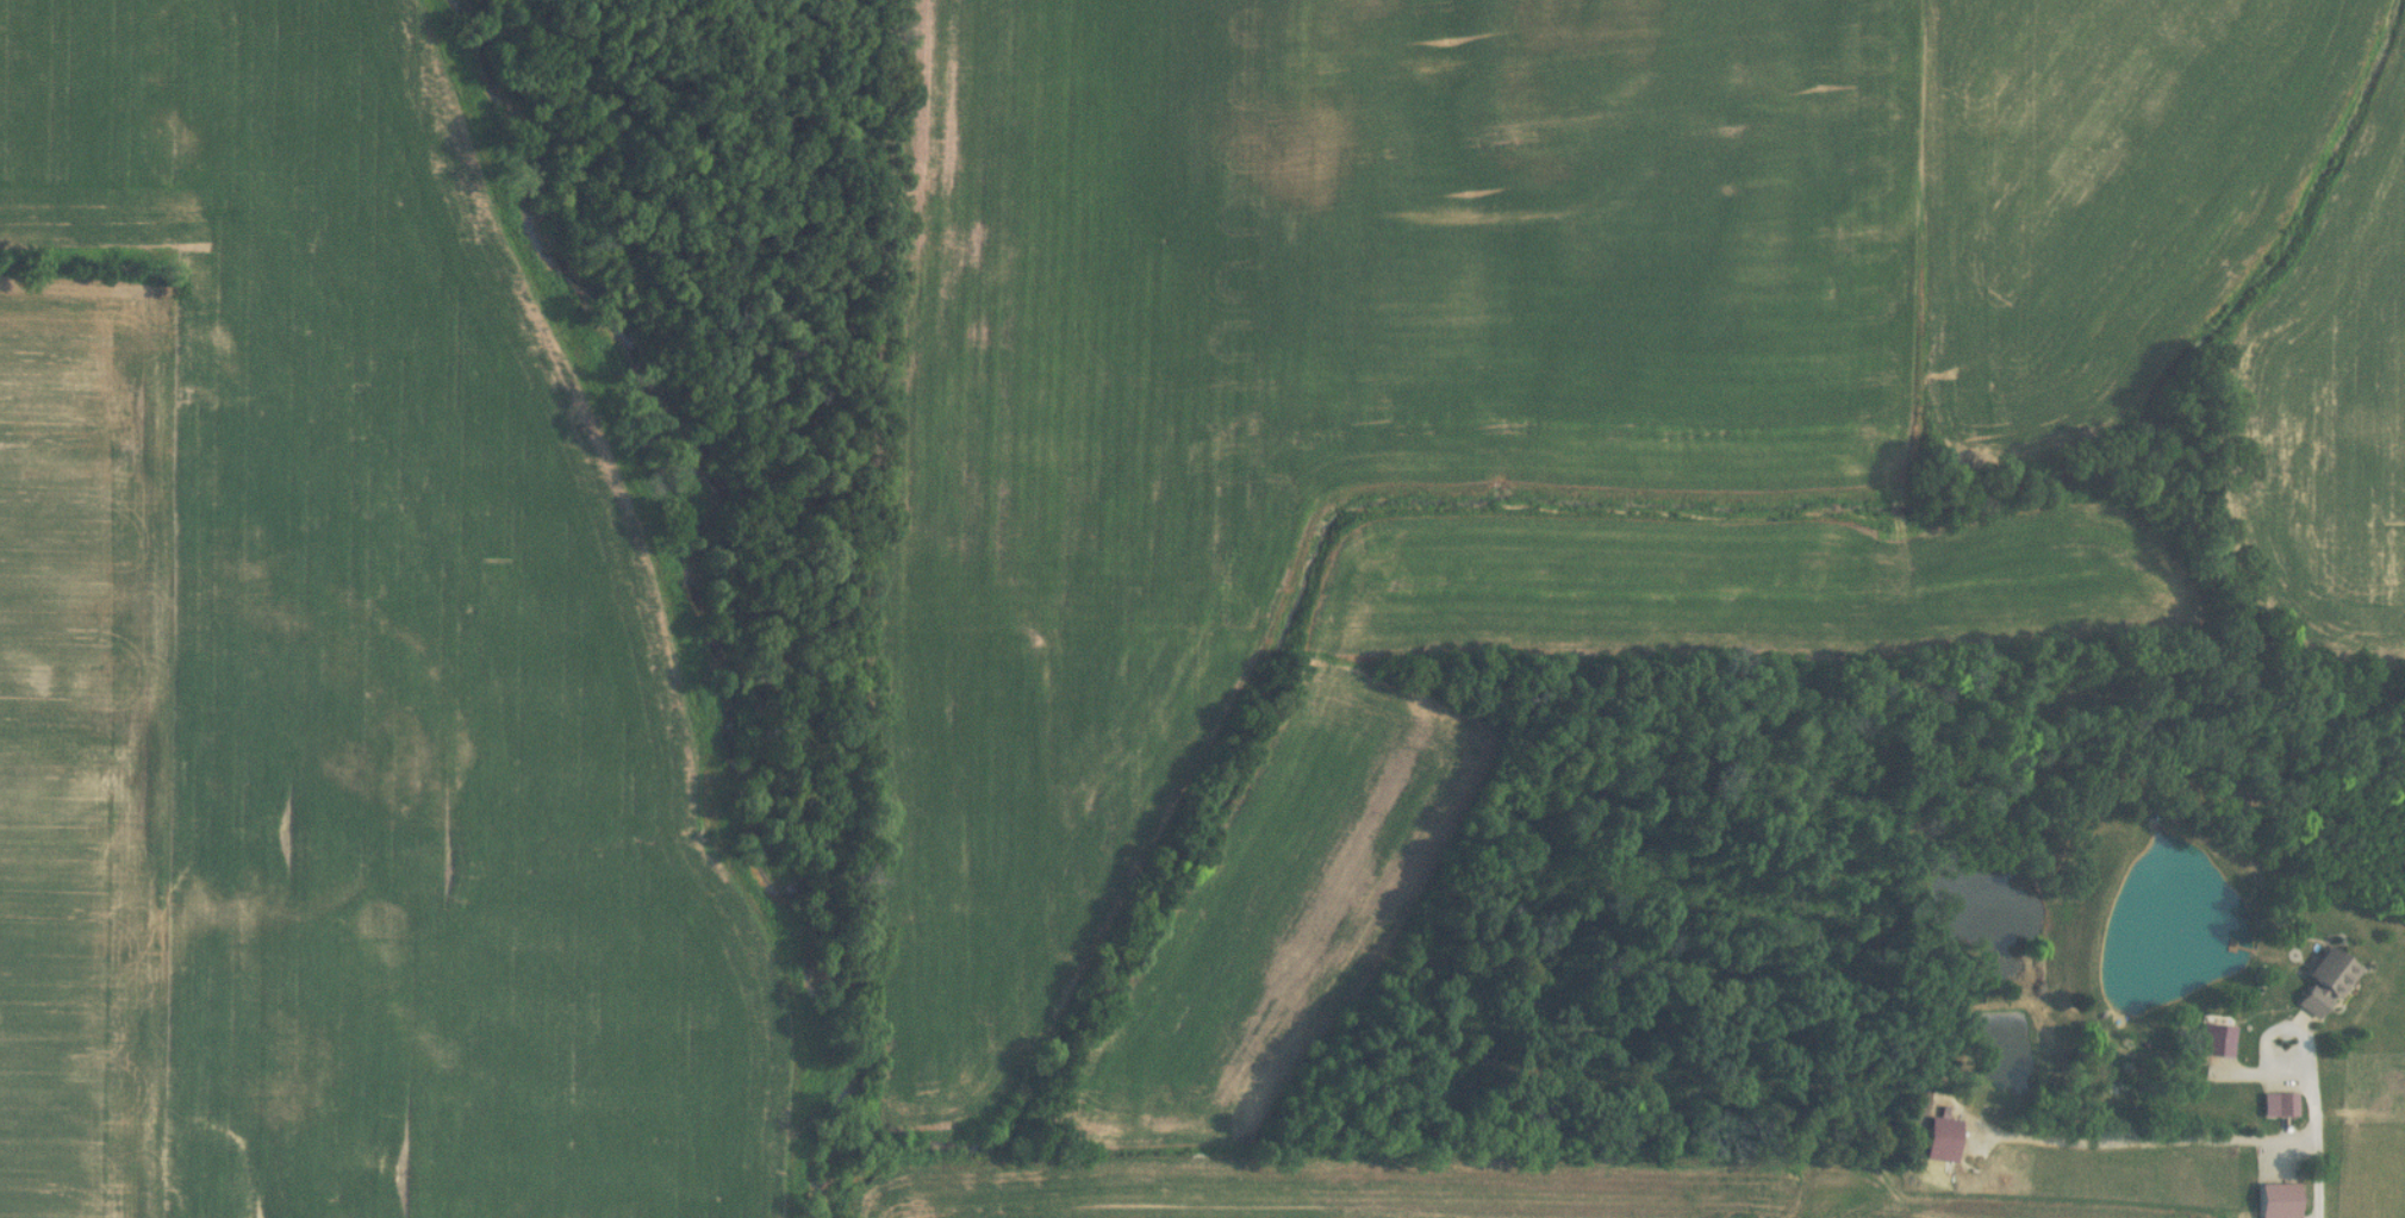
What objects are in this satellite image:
building: (2324, 986)
building: (2214, 1044)
building: (2278, 1107)
building: (1940, 1139)
road: (2143, 1144)
road: (2314, 1162)
building: (2276, 1201)

